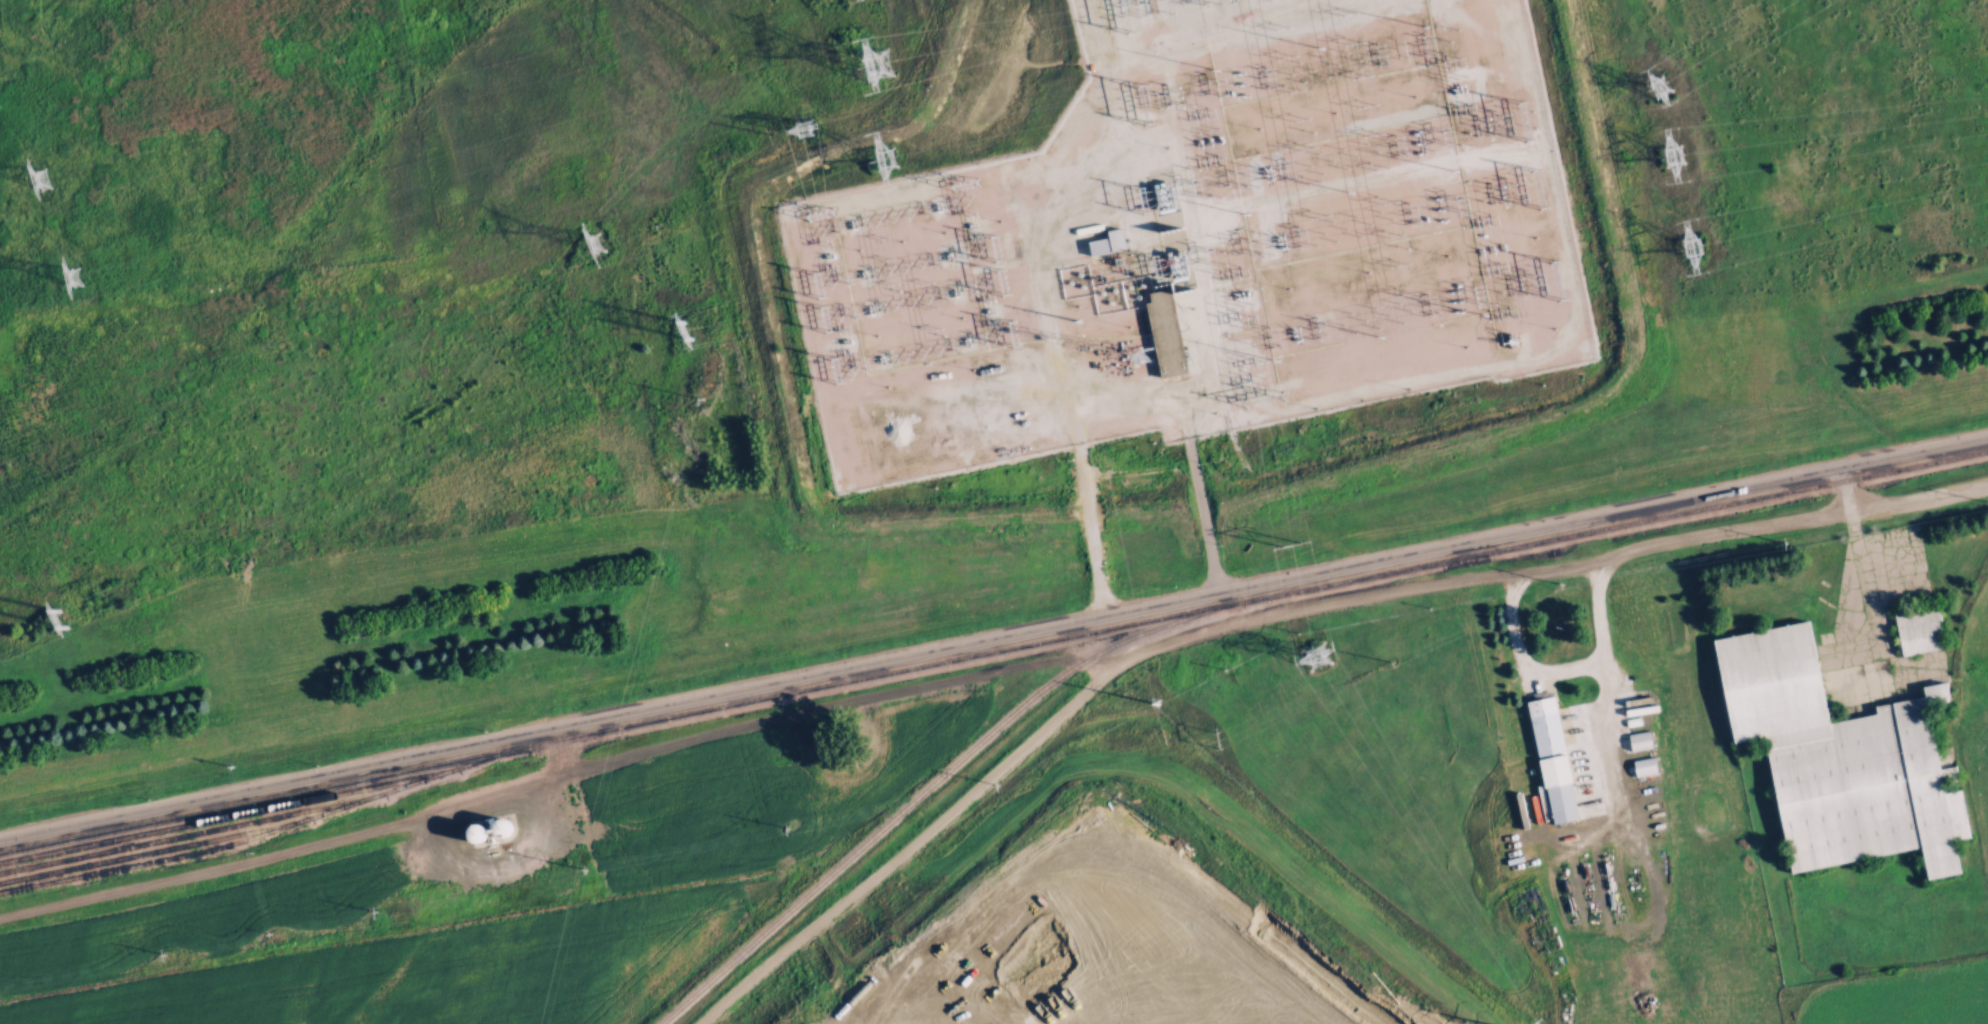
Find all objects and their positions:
power tower: (889, 60)
power tower: (1659, 86)
power tower: (814, 117)
power tower: (899, 149)
power tower: (1673, 154)
power tower: (51, 178)
power tower: (607, 235)
power substation: (1203, 240)
building: (1104, 241)
power tower: (1692, 246)
power tower: (87, 277)
power tower: (1077, 321)
power tower: (698, 325)
building: (1161, 331)
power tower: (701, 395)
road: (1913, 448)
road: (1197, 490)
road: (1919, 496)
power tower: (1789, 539)
road: (1860, 559)
power tower: (1564, 582)
power tower: (69, 618)
building: (1916, 628)
road: (1210, 629)
road: (1604, 631)
road: (919, 650)
railway: (993, 655)
power tower: (1315, 656)
power tower: (1390, 661)
power tower: (1155, 702)
power tower: (1218, 738)
building: (1857, 755)
building: (1549, 758)
building: (1569, 760)
power tower: (1000, 782)
railway: (932, 784)
power tower: (789, 826)
power tower: (583, 869)
power tower: (375, 911)
power tower: (166, 954)
road: (832, 976)
road: (906, 983)

